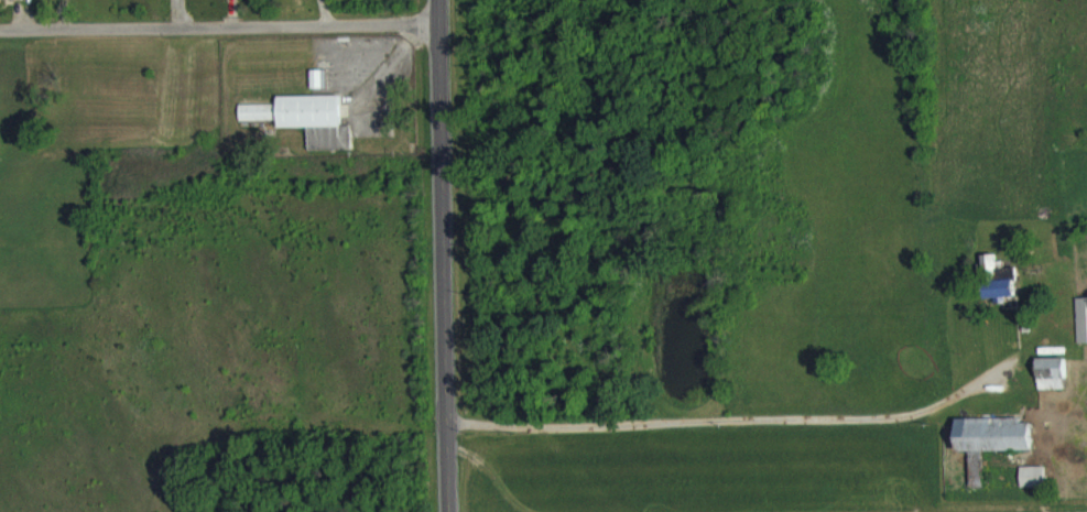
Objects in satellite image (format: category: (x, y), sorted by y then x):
building: (217, 0)
building: (11, 6)
road: (219, 24)
building: (304, 131)
road: (443, 255)
building: (1000, 287)
building: (1081, 333)
building: (1052, 386)
road: (725, 418)
building: (991, 450)

